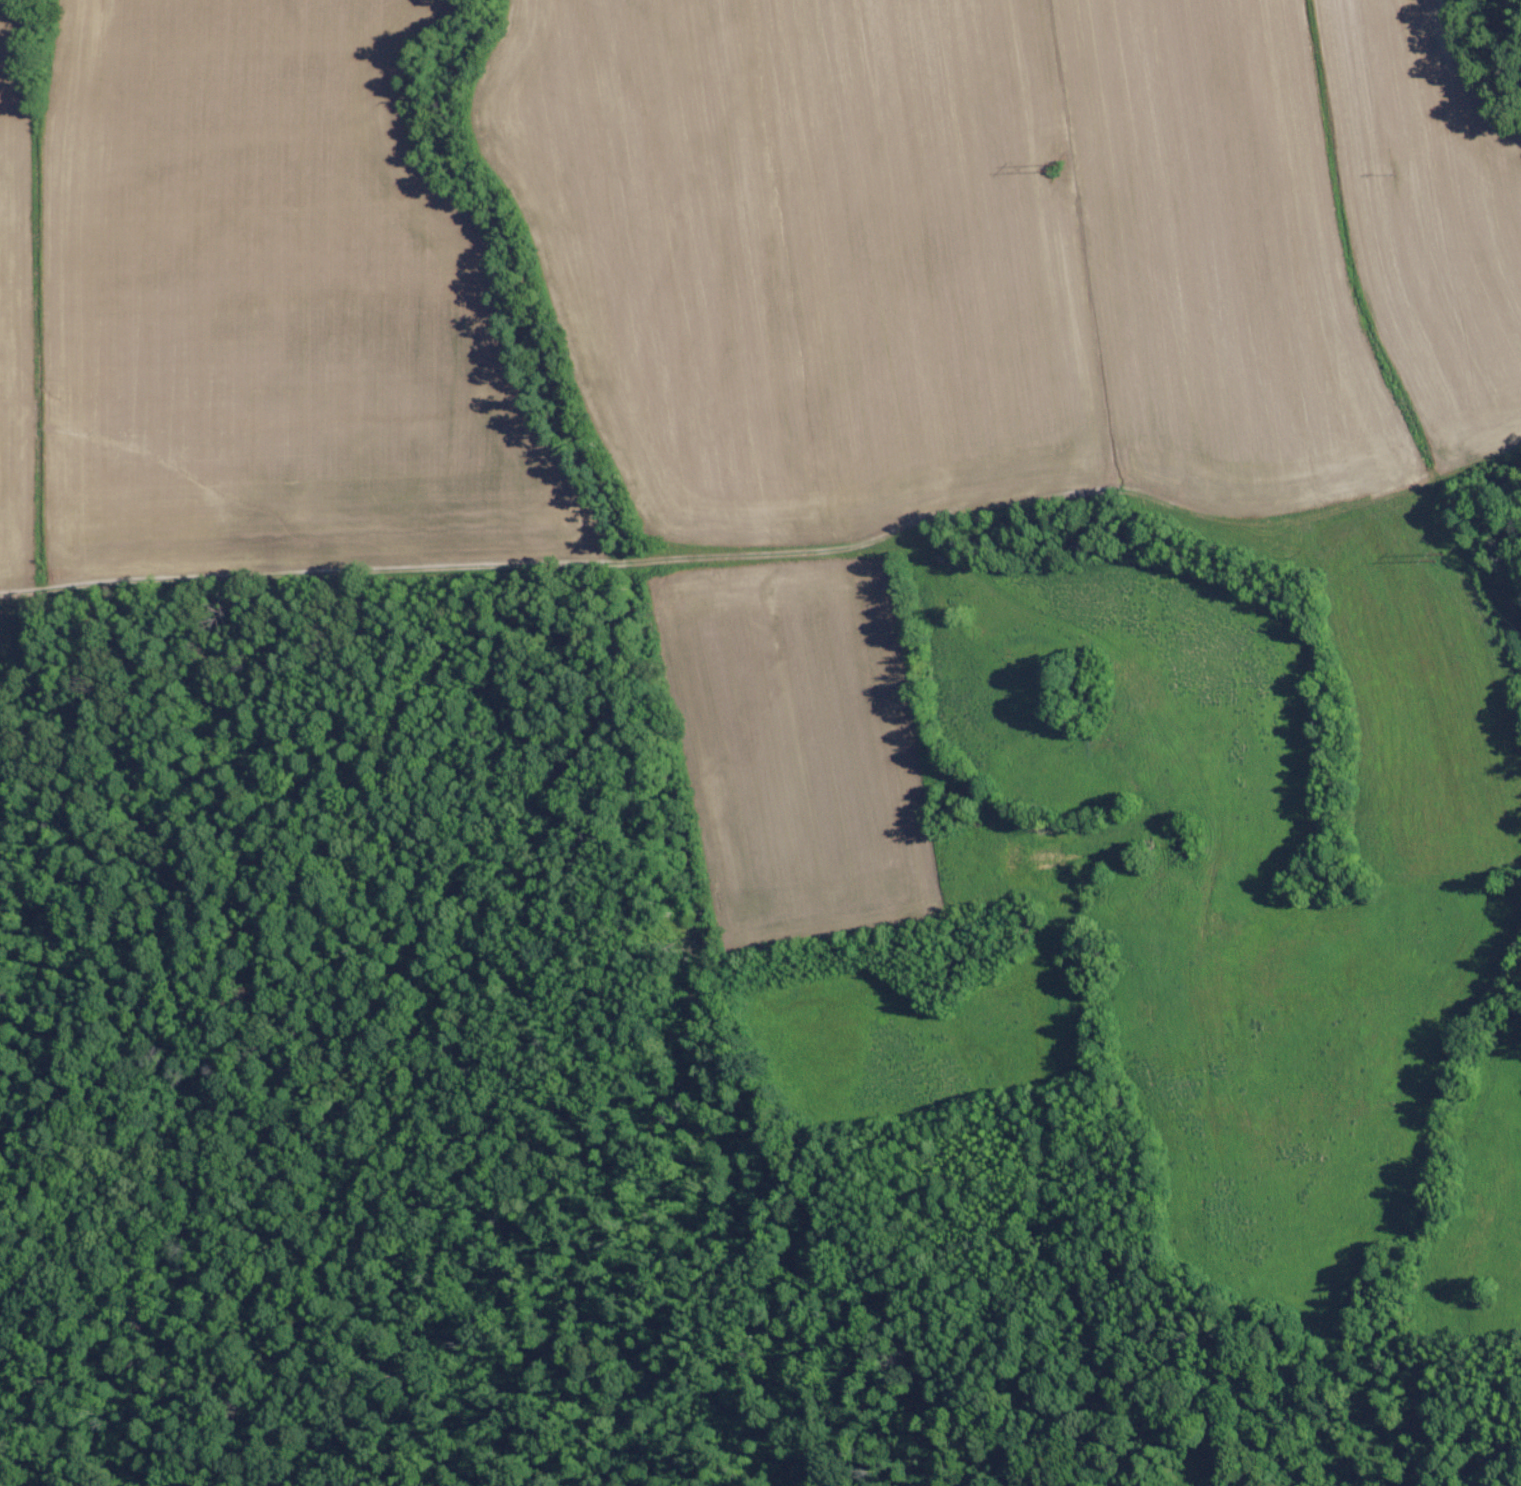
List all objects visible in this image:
power tower: (1058, 163)
road: (614, 531)
power tower: (1441, 550)

